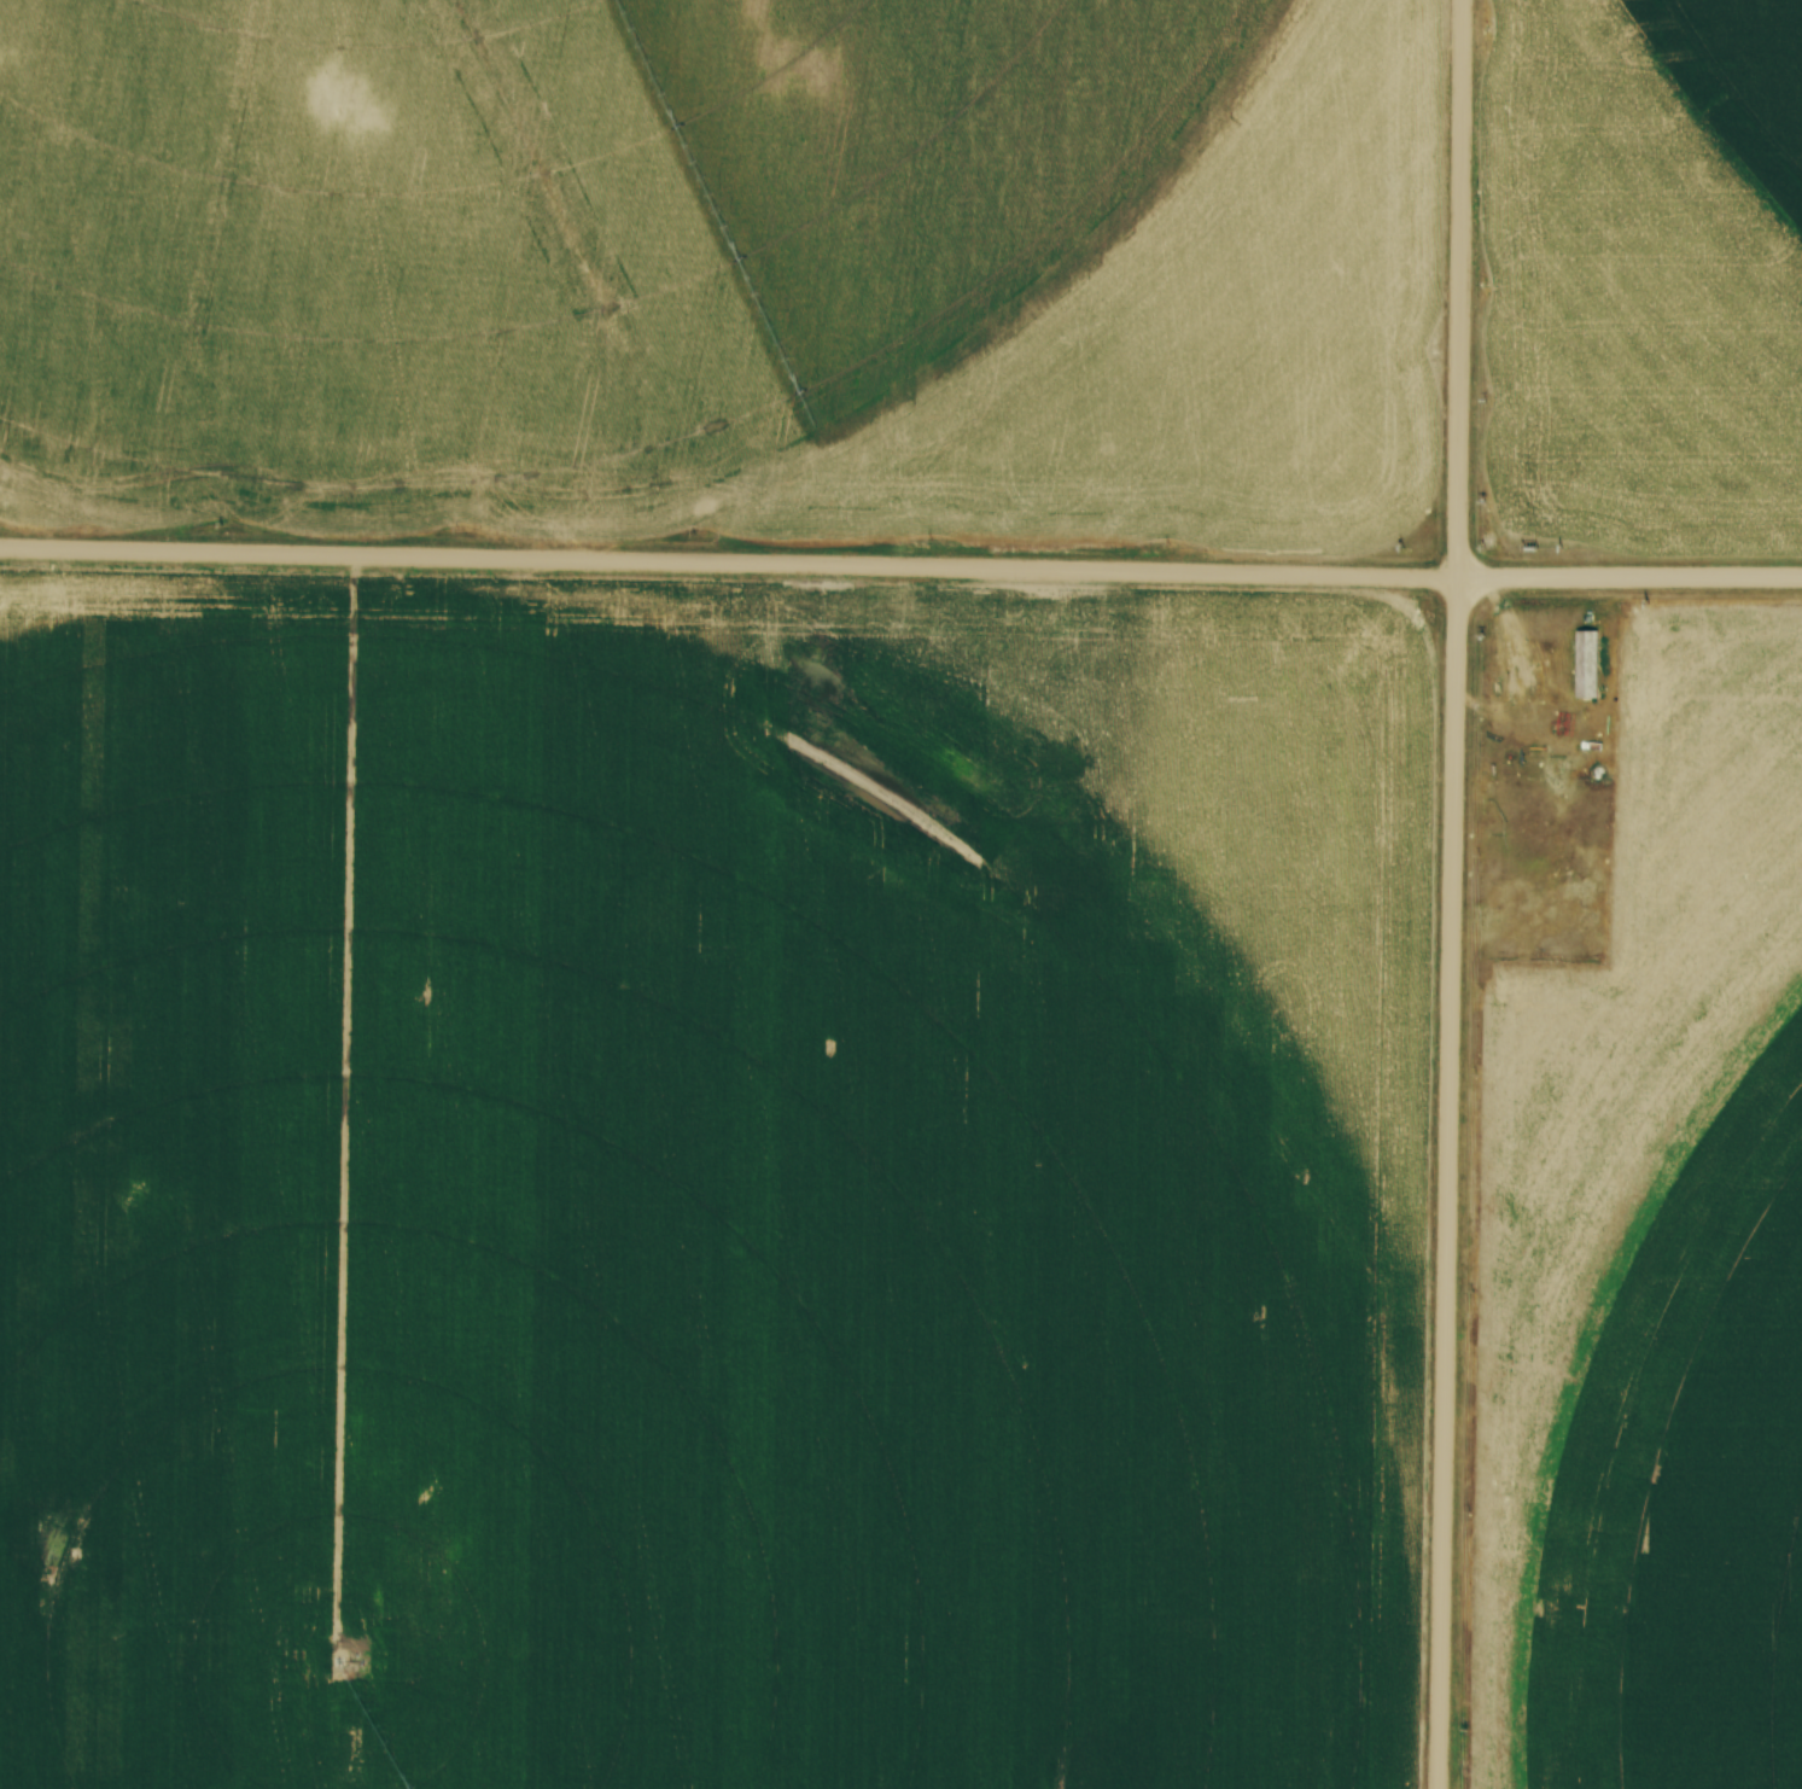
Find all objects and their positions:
crop: (727, 274)
crop: (1640, 275)
road: (900, 566)
building: (1587, 662)
road: (1451, 894)
crop: (710, 1184)
crop: (1655, 1266)

